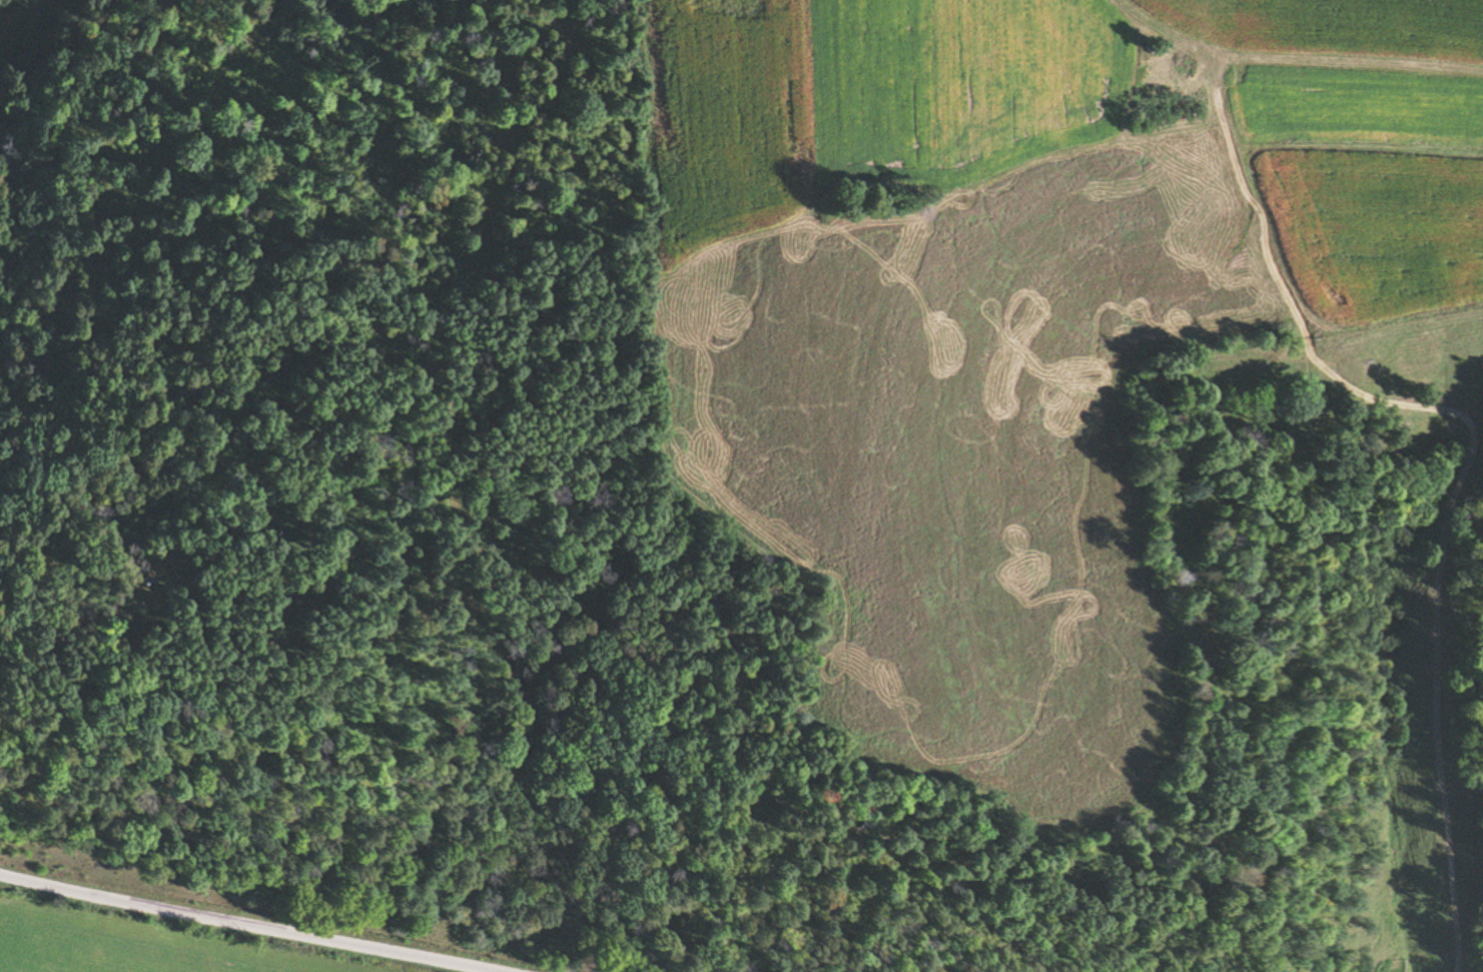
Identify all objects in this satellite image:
crop: (1317, 26)
crop: (987, 91)
crop: (732, 113)
crop: (967, 449)
road: (240, 924)
crop: (161, 940)

